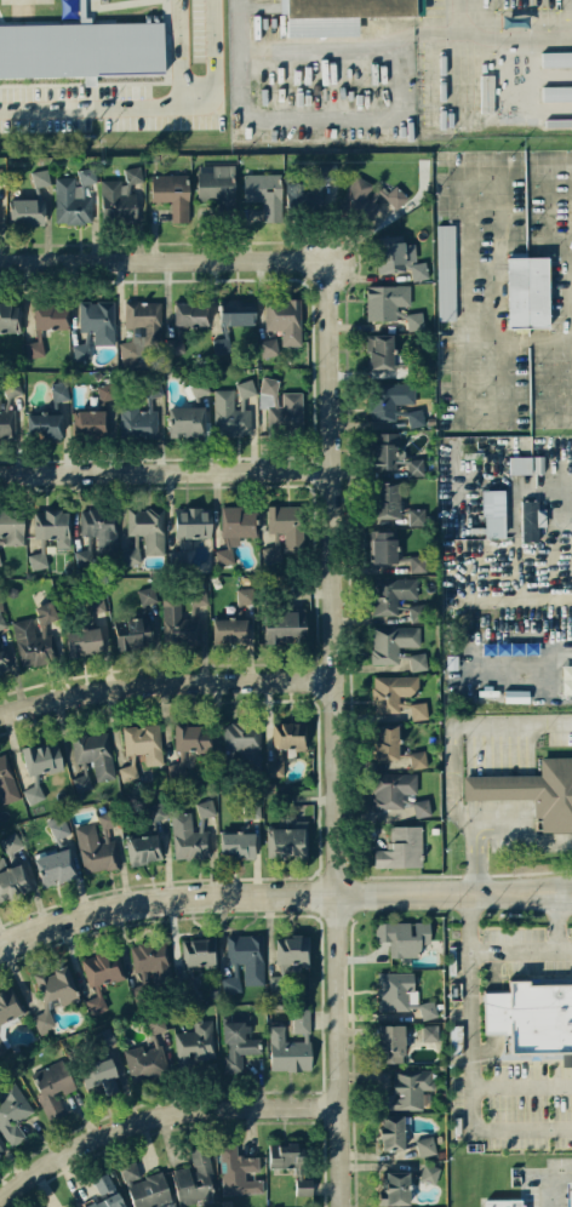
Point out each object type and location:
building: (341, 13)
road: (474, 19)
road: (497, 38)
building: (81, 46)
building: (556, 58)
building: (556, 93)
road: (138, 102)
road: (345, 121)
building: (328, 171)
building: (40, 177)
building: (217, 184)
building: (172, 193)
building: (264, 193)
building: (120, 196)
building: (74, 198)
building: (367, 198)
building: (25, 211)
road: (570, 223)
building: (397, 256)
road: (467, 256)
road: (168, 259)
building: (447, 271)
building: (527, 292)
building: (387, 301)
building: (238, 311)
building: (190, 314)
building: (51, 316)
building: (10, 318)
building: (284, 319)
building: (98, 320)
building: (416, 320)
building: (145, 331)
building: (222, 345)
building: (268, 347)
road: (571, 347)
building: (34, 348)
building: (81, 350)
building: (381, 351)
building: (246, 388)
building: (59, 390)
building: (104, 391)
building: (389, 399)
building: (281, 405)
building: (7, 411)
building: (141, 413)
building: (230, 414)
building: (416, 417)
building: (91, 422)
building: (187, 422)
building: (44, 424)
building: (384, 450)
building: (527, 464)
road: (168, 467)
building: (416, 467)
road: (564, 497)
building: (383, 500)
building: (494, 513)
building: (417, 516)
building: (532, 520)
building: (193, 522)
building: (236, 524)
building: (286, 525)
building: (12, 526)
building: (53, 526)
building: (149, 527)
building: (97, 534)
building: (384, 545)
building: (273, 550)
building: (131, 555)
building: (224, 555)
building: (38, 560)
building: (418, 562)
road: (564, 564)
building: (147, 594)
building: (391, 594)
building: (244, 595)
building: (195, 596)
building: (93, 603)
building: (46, 611)
building: (417, 612)
building: (1, 620)
building: (179, 623)
building: (285, 625)
building: (229, 630)
building: (133, 631)
building: (84, 641)
building: (391, 641)
building: (32, 642)
building: (4, 659)
building: (418, 660)
road: (167, 680)
building: (393, 691)
building: (419, 710)
road: (462, 726)
building: (288, 734)
road: (339, 734)
building: (193, 737)
building: (388, 740)
building: (144, 742)
building: (244, 742)
building: (95, 753)
building: (41, 757)
building: (418, 759)
building: (275, 767)
building: (177, 771)
building: (127, 772)
building: (6, 782)
building: (81, 782)
building: (531, 790)
building: (33, 793)
building: (399, 793)
building: (205, 807)
building: (156, 811)
building: (107, 818)
building: (58, 825)
road: (526, 825)
building: (189, 837)
building: (288, 837)
building: (11, 845)
building: (239, 845)
building: (401, 847)
building: (144, 848)
building: (96, 850)
road: (475, 856)
building: (55, 866)
building: (12, 880)
road: (275, 888)
road: (566, 888)
road: (566, 893)
building: (404, 936)
road: (567, 948)
building: (292, 949)
road: (547, 949)
building: (199, 951)
building: (247, 956)
building: (150, 959)
building: (102, 967)
building: (230, 984)
road: (473, 988)
building: (395, 990)
building: (52, 994)
building: (96, 1003)
building: (8, 1005)
building: (428, 1008)
building: (532, 1017)
building: (156, 1024)
building: (429, 1031)
building: (238, 1041)
building: (390, 1042)
building: (196, 1043)
building: (291, 1043)
building: (145, 1062)
building: (104, 1075)
road: (521, 1085)
building: (52, 1086)
building: (408, 1088)
building: (12, 1111)
road: (159, 1115)
road: (503, 1127)
building: (393, 1132)
building: (425, 1145)
building: (1, 1151)
building: (291, 1165)
building: (238, 1171)
building: (429, 1172)
building: (195, 1178)
road: (553, 1182)
building: (145, 1186)
building: (396, 1188)
building: (105, 1192)
building: (568, 1194)
building: (503, 1202)

